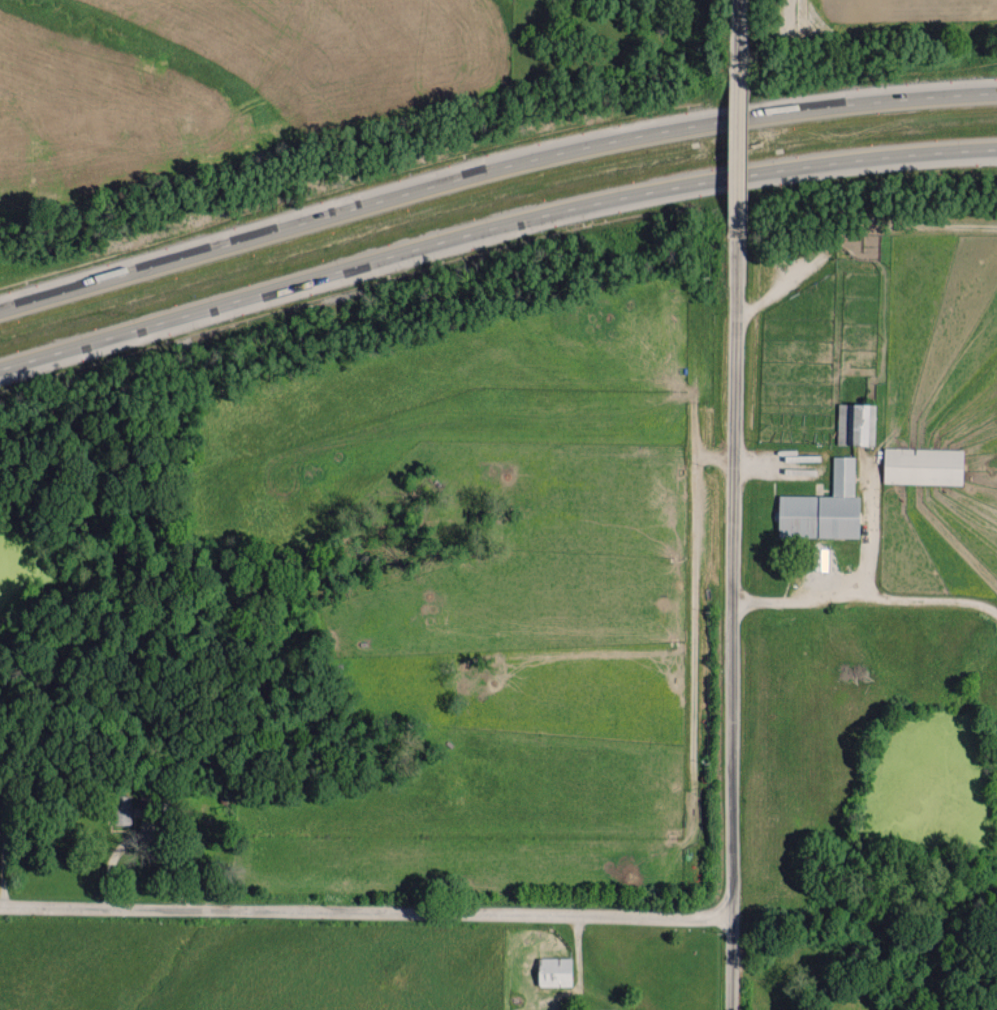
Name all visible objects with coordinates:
road: (740, 35)
road: (739, 153)
road: (492, 175)
road: (493, 236)
building: (855, 423)
building: (922, 465)
building: (823, 507)
road: (734, 623)
building: (122, 815)
road: (366, 908)
building: (554, 971)

